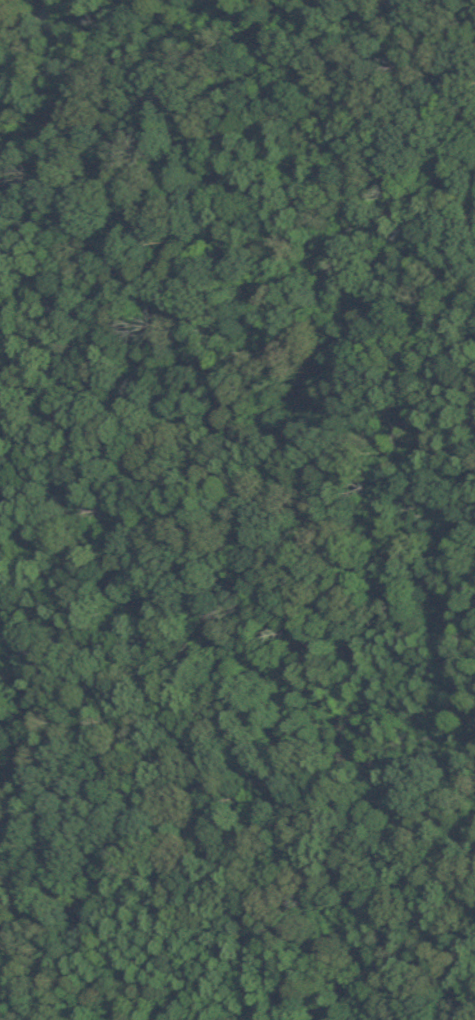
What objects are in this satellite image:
road: (36, 51)
road: (34, 719)

